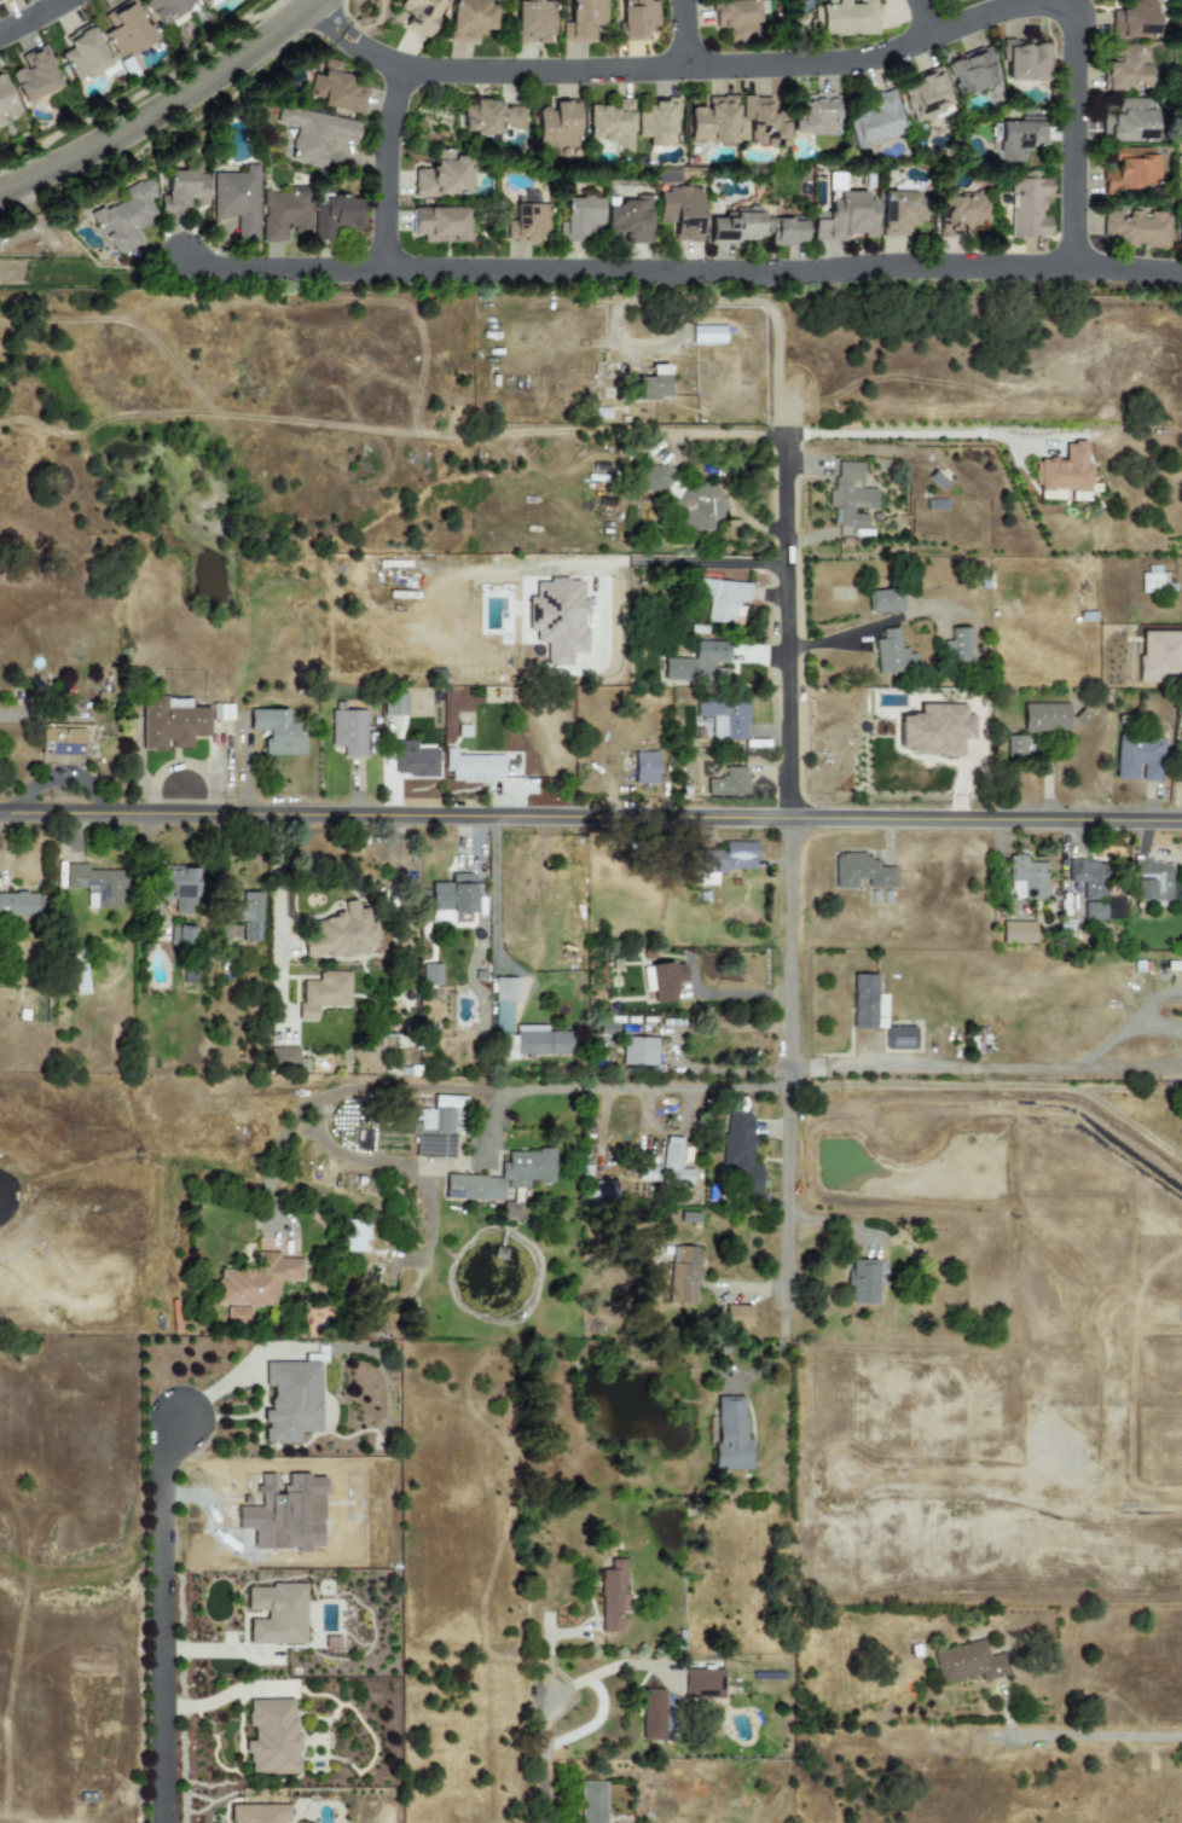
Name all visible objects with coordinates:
building: (1, 0)
building: (951, 1)
building: (208, 2)
building: (164, 8)
building: (419, 16)
road: (31, 17)
building: (734, 17)
road: (923, 17)
building: (635, 18)
building: (845, 18)
building: (469, 19)
building: (580, 19)
building: (1132, 19)
building: (532, 23)
building: (126, 29)
road: (680, 34)
building: (83, 54)
building: (1025, 62)
building: (1125, 68)
road: (673, 69)
building: (970, 72)
building: (34, 76)
building: (336, 89)
building: (923, 95)
building: (6, 103)
road: (162, 106)
building: (812, 114)
building: (491, 117)
building: (873, 120)
building: (711, 121)
building: (1128, 121)
building: (655, 123)
building: (759, 123)
building: (556, 126)
building: (610, 126)
road: (1071, 129)
building: (314, 134)
building: (1014, 138)
road: (383, 168)
building: (1128, 169)
building: (442, 176)
building: (182, 192)
building: (237, 201)
building: (1027, 208)
building: (900, 211)
building: (680, 213)
building: (958, 213)
building: (284, 215)
road: (33, 216)
building: (334, 216)
building: (126, 217)
building: (579, 219)
building: (628, 219)
building: (842, 219)
building: (527, 222)
building: (439, 225)
building: (754, 228)
building: (1134, 228)
road: (19, 234)
building: (1178, 234)
road: (282, 269)
road: (782, 272)
road: (699, 300)
building: (649, 385)
road: (906, 434)
building: (1064, 471)
building: (650, 478)
building: (850, 497)
building: (697, 509)
road: (740, 512)
road: (653, 562)
building: (1151, 579)
building: (720, 599)
building: (885, 602)
building: (557, 620)
road: (868, 626)
building: (957, 645)
building: (892, 654)
building: (1159, 657)
building: (697, 663)
building: (394, 706)
building: (724, 718)
building: (1044, 718)
building: (170, 725)
building: (935, 730)
building: (276, 732)
building: (348, 732)
building: (59, 741)
building: (1015, 747)
building: (1138, 759)
building: (413, 760)
building: (474, 767)
building: (645, 768)
building: (729, 783)
road: (591, 814)
road: (789, 823)
building: (730, 858)
building: (861, 872)
building: (1025, 878)
building: (1089, 878)
building: (1152, 881)
building: (94, 886)
building: (178, 889)
building: (452, 900)
road: (493, 902)
building: (19, 905)
building: (1093, 911)
building: (248, 916)
road: (277, 916)
building: (1016, 933)
building: (338, 934)
building: (181, 936)
building: (429, 974)
building: (77, 980)
building: (662, 980)
building: (504, 989)
building: (323, 994)
building: (865, 1003)
building: (502, 1023)
building: (898, 1038)
building: (540, 1041)
building: (638, 1051)
building: (284, 1058)
road: (974, 1085)
road: (447, 1088)
road: (1129, 1121)
building: (434, 1130)
building: (740, 1154)
road: (274, 1160)
building: (665, 1166)
building: (502, 1177)
building: (603, 1191)
building: (511, 1211)
building: (355, 1236)
building: (682, 1273)
building: (256, 1281)
building: (862, 1282)
building: (238, 1314)
building: (736, 1314)
road: (778, 1348)
building: (290, 1400)
building: (730, 1434)
building: (610, 1597)
building: (276, 1614)
road: (167, 1616)
building: (968, 1662)
road: (606, 1670)
building: (702, 1684)
building: (651, 1714)
road: (1084, 1735)
building: (271, 1736)
road: (544, 1758)
building: (591, 1802)
building: (260, 1813)

